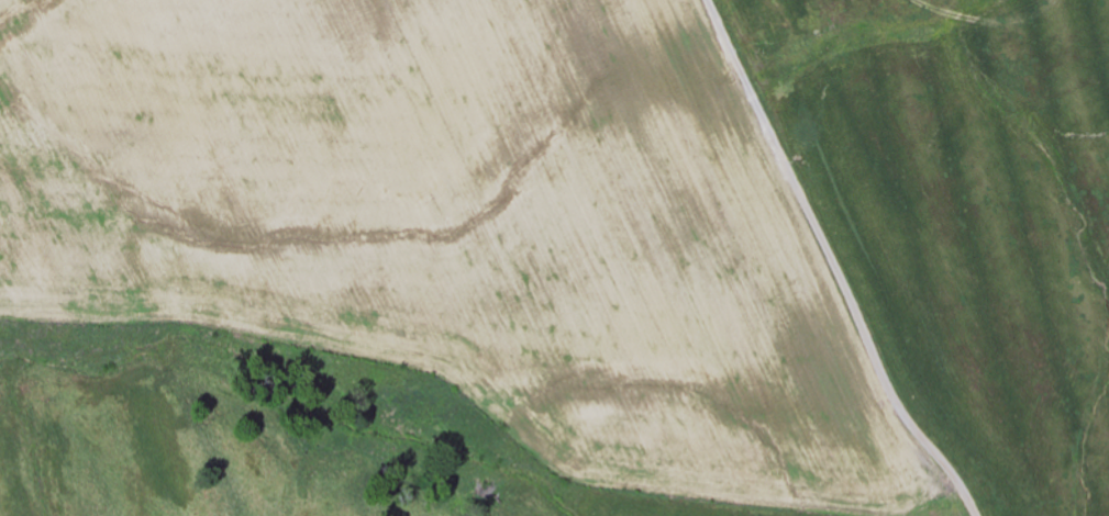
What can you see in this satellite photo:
road: (831, 262)

